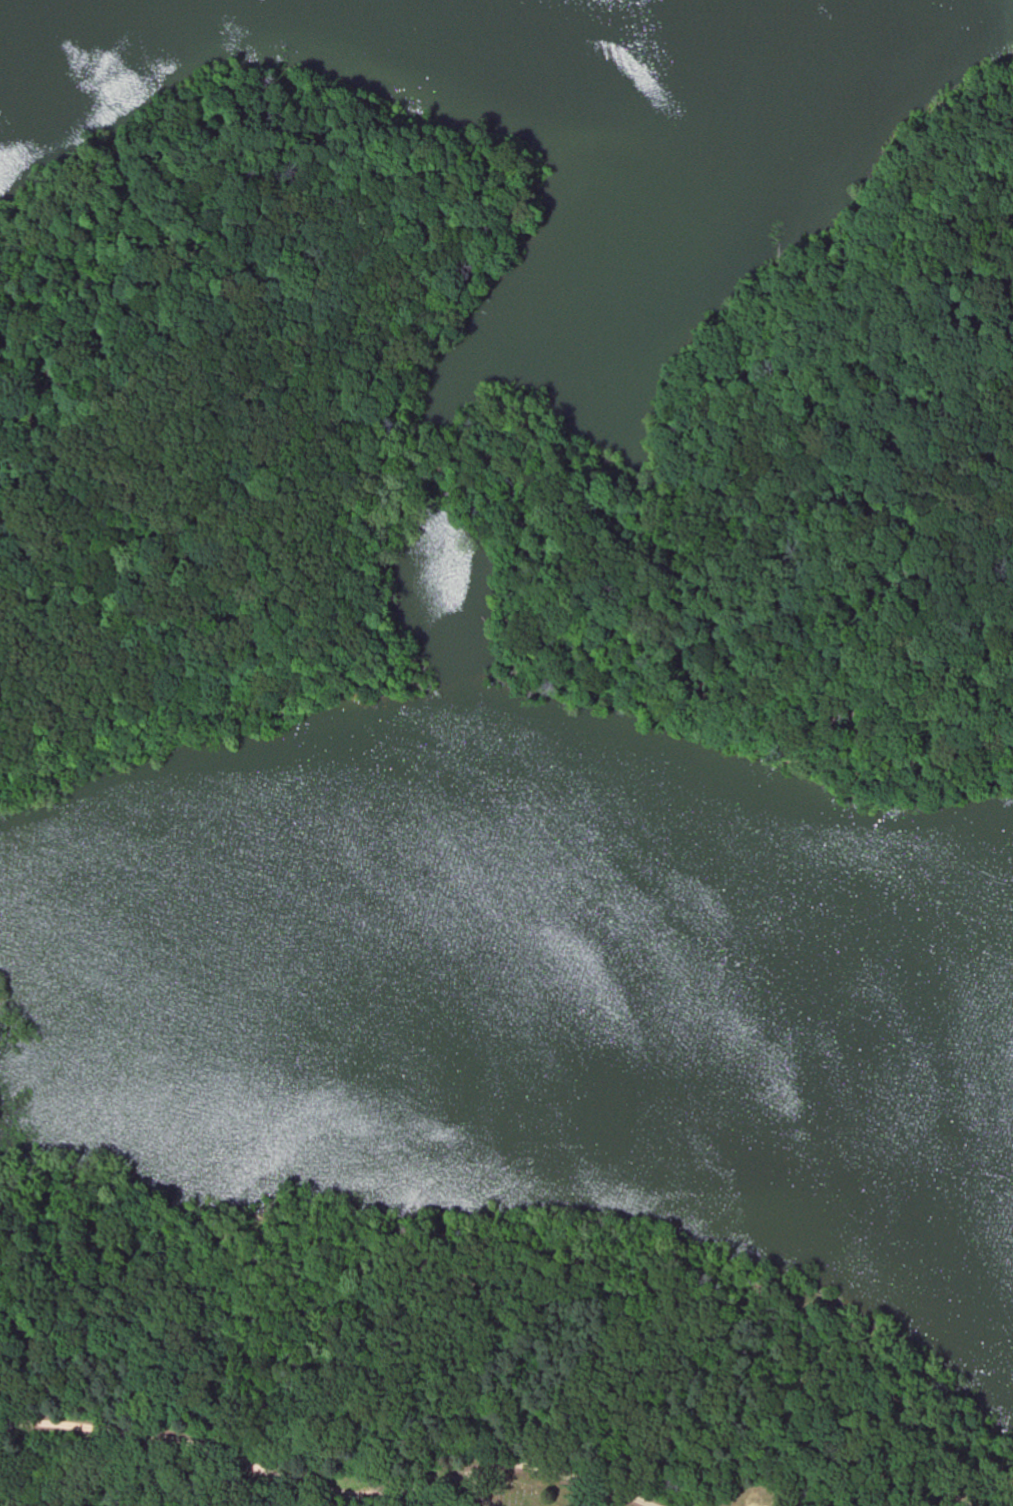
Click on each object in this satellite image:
road: (325, 1491)
park: (533, 1495)

